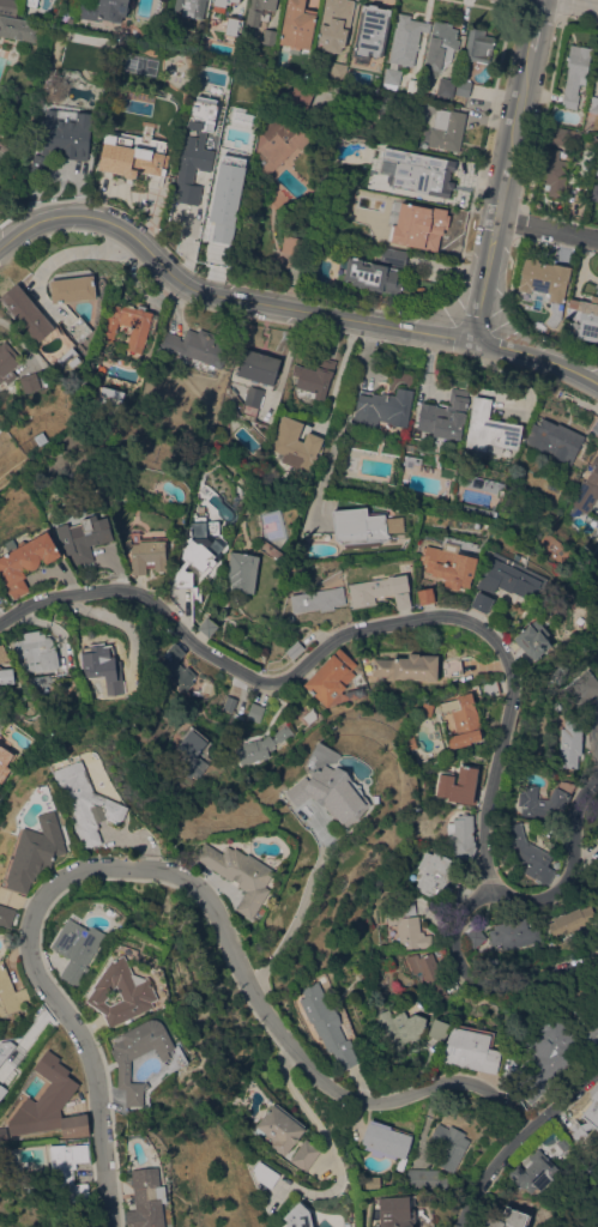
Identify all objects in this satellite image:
building: (30, 2)
building: (223, 2)
road: (579, 4)
building: (8, 6)
building: (189, 7)
building: (104, 10)
building: (258, 10)
building: (334, 24)
building: (297, 25)
building: (232, 26)
building: (18, 28)
building: (372, 31)
building: (268, 37)
building: (406, 40)
building: (479, 46)
building: (441, 47)
building: (264, 49)
building: (338, 71)
building: (575, 73)
building: (392, 77)
building: (597, 77)
building: (412, 86)
building: (446, 86)
building: (464, 87)
building: (337, 89)
building: (301, 95)
building: (592, 104)
building: (389, 107)
building: (447, 128)
building: (562, 134)
building: (62, 139)
building: (279, 141)
building: (140, 158)
building: (102, 162)
building: (192, 162)
road: (505, 169)
building: (597, 169)
building: (417, 171)
building: (554, 173)
building: (594, 192)
building: (228, 201)
building: (428, 222)
road: (546, 229)
building: (388, 236)
building: (291, 244)
building: (226, 249)
building: (389, 255)
building: (372, 276)
building: (546, 284)
building: (72, 285)
road: (285, 307)
building: (26, 313)
building: (585, 316)
building: (127, 325)
building: (78, 328)
building: (198, 346)
building: (70, 358)
building: (7, 362)
building: (259, 367)
road: (337, 374)
building: (315, 376)
building: (83, 380)
building: (29, 382)
building: (110, 399)
building: (253, 400)
building: (381, 407)
building: (443, 417)
building: (489, 427)
building: (594, 427)
building: (554, 439)
building: (295, 443)
building: (587, 491)
building: (363, 526)
building: (84, 537)
building: (306, 543)
building: (198, 551)
building: (146, 552)
building: (519, 558)
building: (24, 561)
building: (449, 564)
building: (242, 572)
building: (508, 580)
building: (182, 588)
building: (380, 591)
building: (0, 596)
building: (425, 596)
building: (318, 599)
building: (482, 602)
building: (289, 618)
road: (122, 623)
building: (207, 627)
road: (352, 634)
building: (531, 640)
building: (295, 649)
building: (37, 651)
building: (2, 652)
building: (597, 652)
building: (597, 664)
building: (103, 666)
building: (453, 666)
building: (175, 667)
building: (407, 667)
building: (6, 676)
building: (562, 676)
building: (332, 677)
building: (42, 684)
building: (66, 689)
building: (490, 689)
building: (580, 691)
building: (229, 702)
building: (255, 712)
building: (463, 719)
road: (593, 732)
building: (570, 744)
building: (262, 745)
building: (194, 752)
building: (5, 757)
building: (458, 784)
building: (330, 786)
building: (542, 802)
building: (85, 803)
building: (596, 835)
building: (461, 836)
building: (36, 852)
building: (530, 852)
road: (174, 874)
road: (568, 874)
building: (240, 875)
building: (436, 876)
building: (6, 915)
road: (294, 918)
building: (572, 920)
building: (407, 925)
building: (512, 933)
building: (475, 936)
building: (77, 948)
building: (597, 948)
building: (429, 973)
road: (488, 984)
building: (121, 992)
building: (10, 993)
building: (330, 1024)
building: (399, 1029)
building: (439, 1029)
building: (592, 1032)
building: (5, 1047)
building: (471, 1048)
building: (551, 1053)
building: (145, 1060)
building: (2, 1089)
building: (50, 1102)
building: (590, 1117)
building: (280, 1126)
building: (4, 1134)
road: (324, 1135)
road: (518, 1138)
building: (386, 1142)
building: (451, 1144)
building: (304, 1154)
building: (532, 1172)
building: (265, 1174)
building: (424, 1177)
building: (68, 1179)
building: (370, 1183)
building: (146, 1198)
building: (395, 1211)
building: (298, 1216)
building: (508, 1219)

